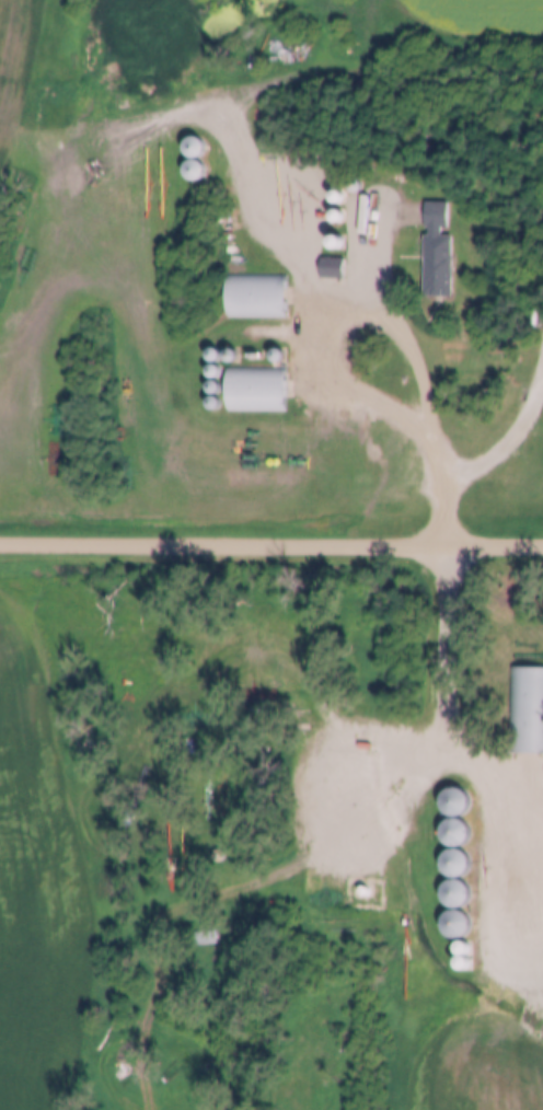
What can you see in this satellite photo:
building: (333, 23)
silo: (333, 23)
building: (328, 56)
silo: (328, 56)
building: (197, 146)
silo: (197, 146)
building: (196, 170)
silo: (196, 170)
building: (357, 186)
silo: (357, 186)
building: (340, 197)
silo: (340, 197)
building: (340, 216)
silo: (340, 216)
building: (230, 227)
silo: (230, 227)
building: (231, 243)
silo: (231, 243)
building: (340, 243)
silo: (340, 243)
building: (440, 254)
building: (335, 271)
building: (259, 299)
road: (367, 307)
storage tank: (532, 320)
building: (234, 355)
silo: (234, 355)
building: (217, 356)
silo: (217, 356)
building: (280, 357)
silo: (280, 357)
building: (217, 371)
silo: (217, 371)
building: (217, 386)
silo: (217, 386)
building: (259, 390)
building: (216, 403)
silo: (216, 403)
road: (504, 441)
road: (448, 509)
road: (271, 540)
building: (527, 710)
road: (461, 718)
building: (459, 801)
silo: (459, 801)
building: (459, 832)
silo: (459, 832)
building: (459, 863)
silo: (459, 863)
storage tank: (367, 890)
building: (459, 892)
silo: (459, 892)
building: (460, 923)
silo: (460, 923)
building: (208, 941)
building: (466, 953)
silo: (466, 953)
building: (466, 969)
silo: (466, 969)

